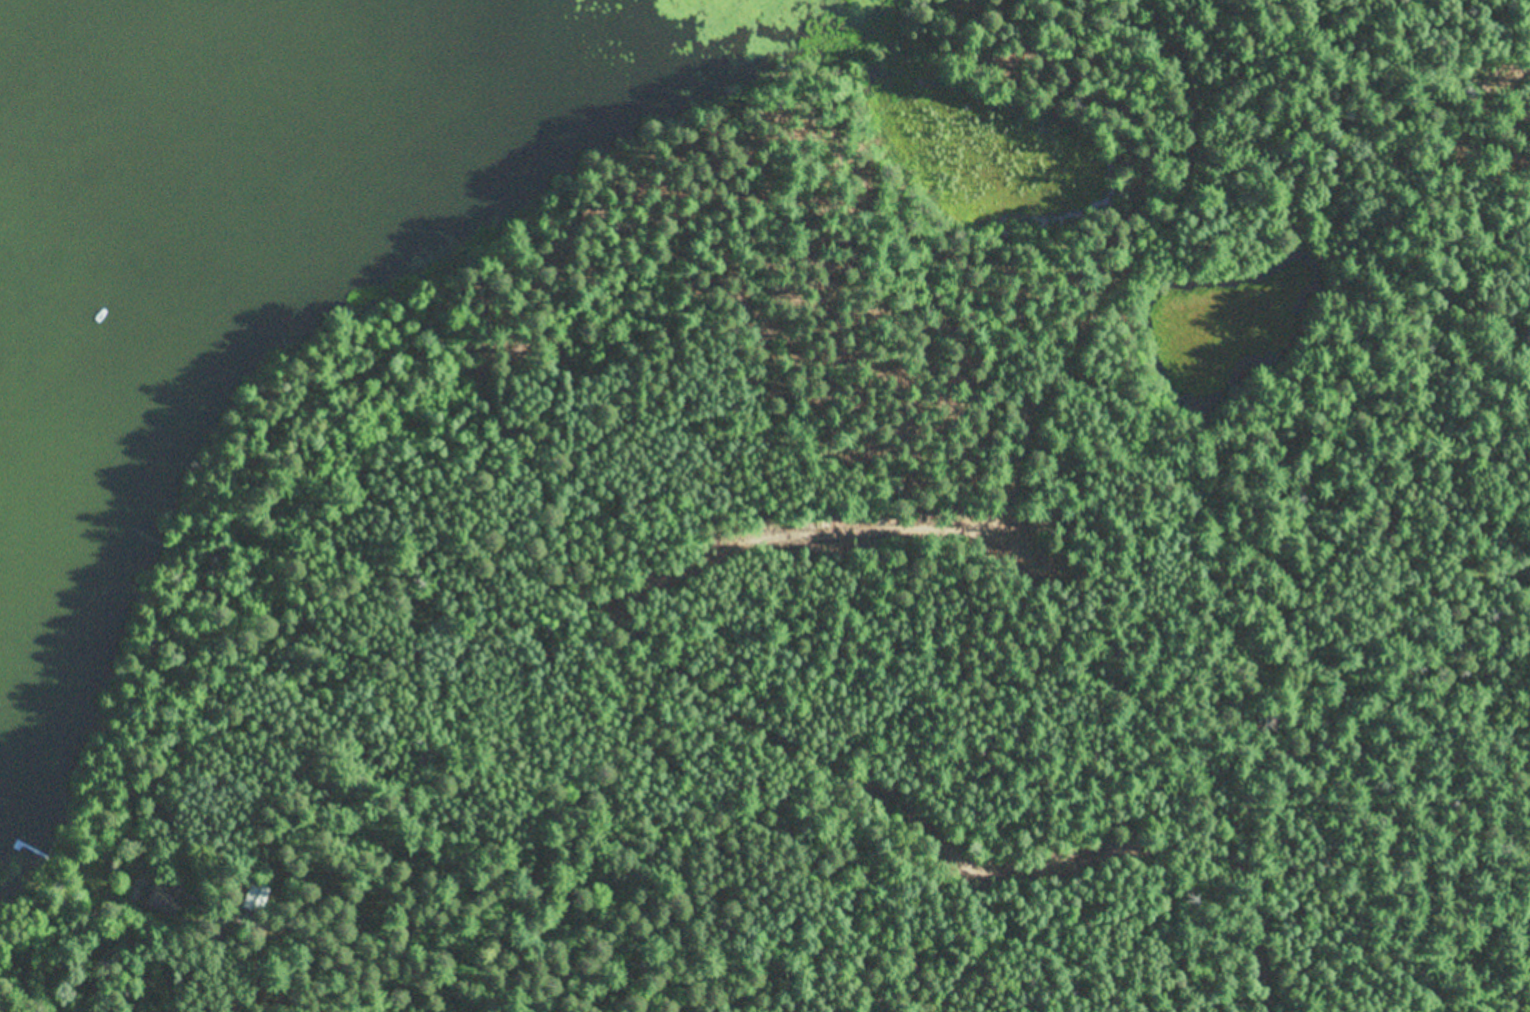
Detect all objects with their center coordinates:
building: (258, 894)
building: (163, 898)
building: (223, 901)

